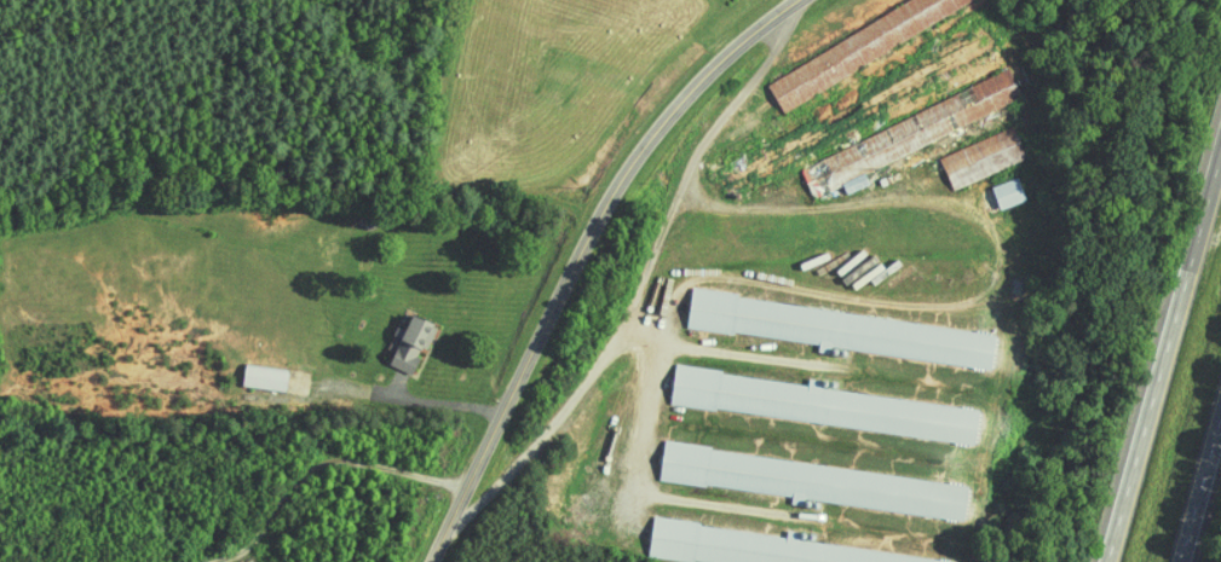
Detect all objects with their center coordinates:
building: (839, 42)
building: (887, 131)
building: (966, 151)
building: (744, 157)
building: (992, 186)
road: (581, 255)
building: (825, 323)
building: (393, 337)
road: (1165, 360)
building: (249, 370)
road: (276, 393)
building: (801, 398)
building: (801, 475)
road: (1204, 510)
building: (753, 543)

